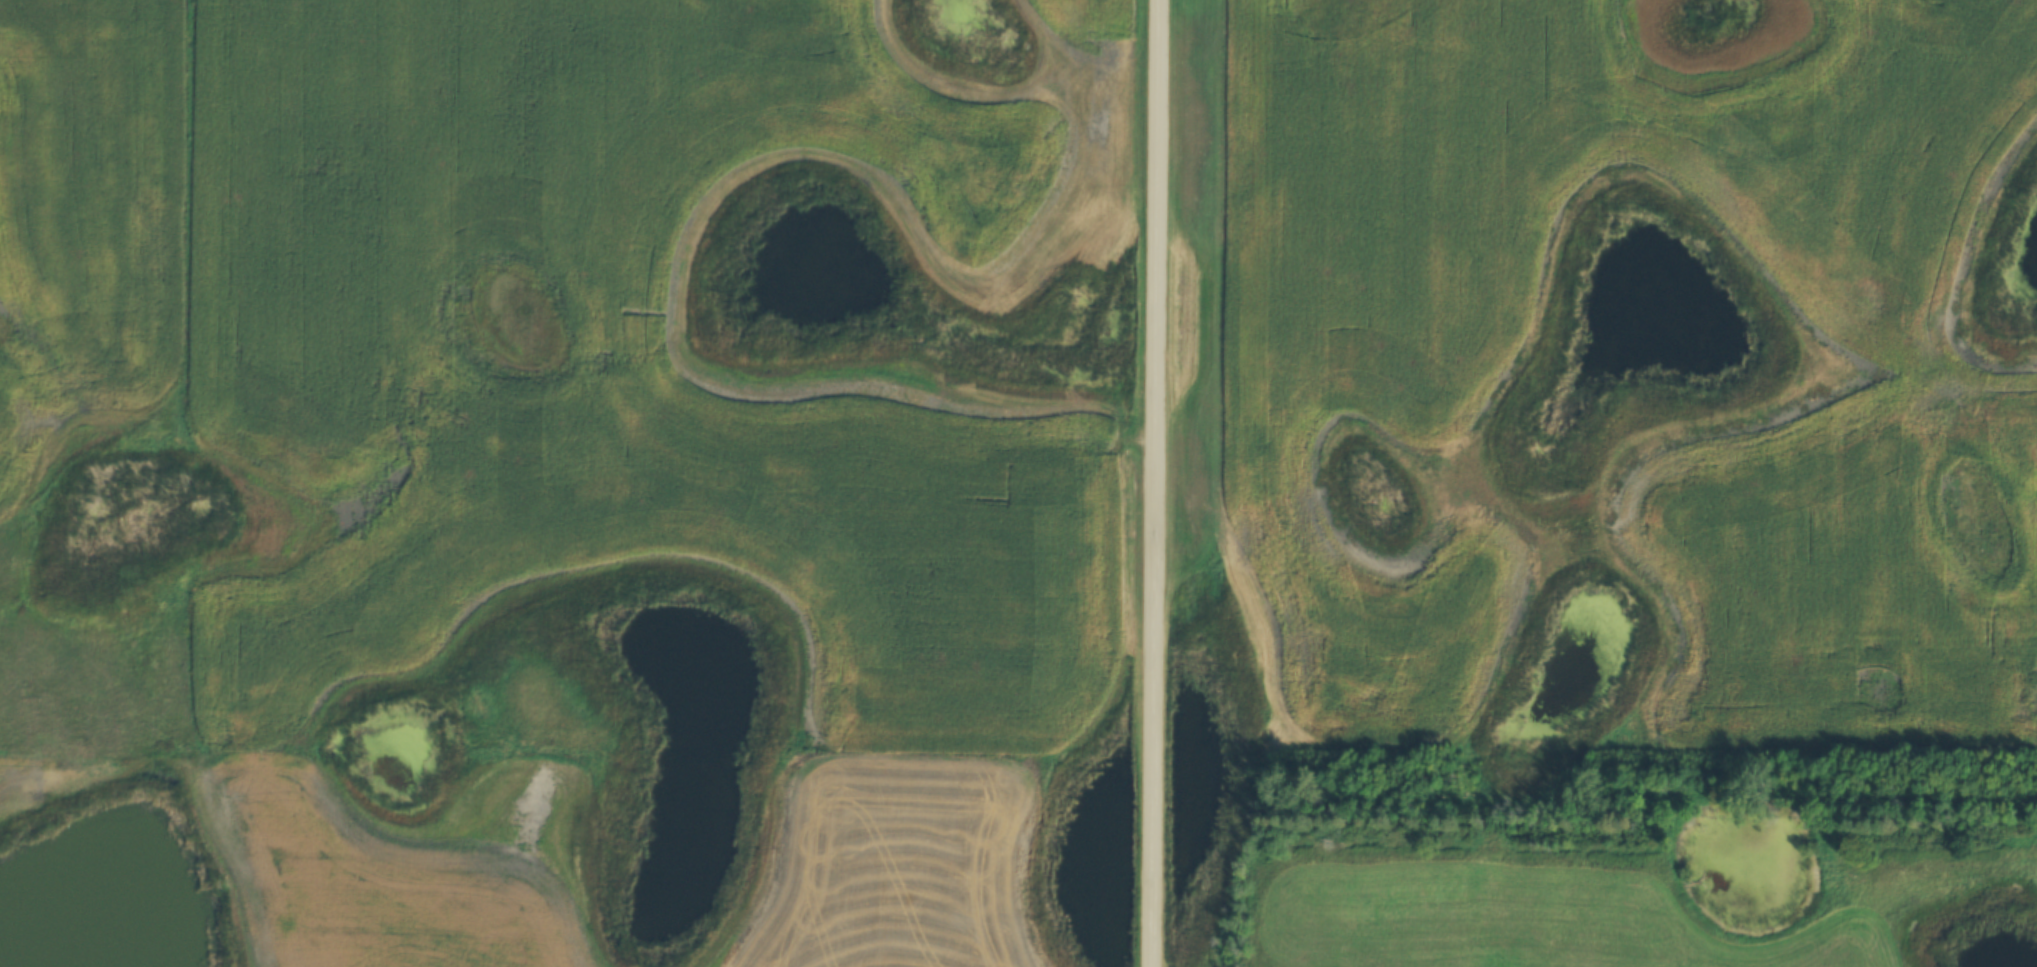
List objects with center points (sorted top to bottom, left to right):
road: (1160, 483)

